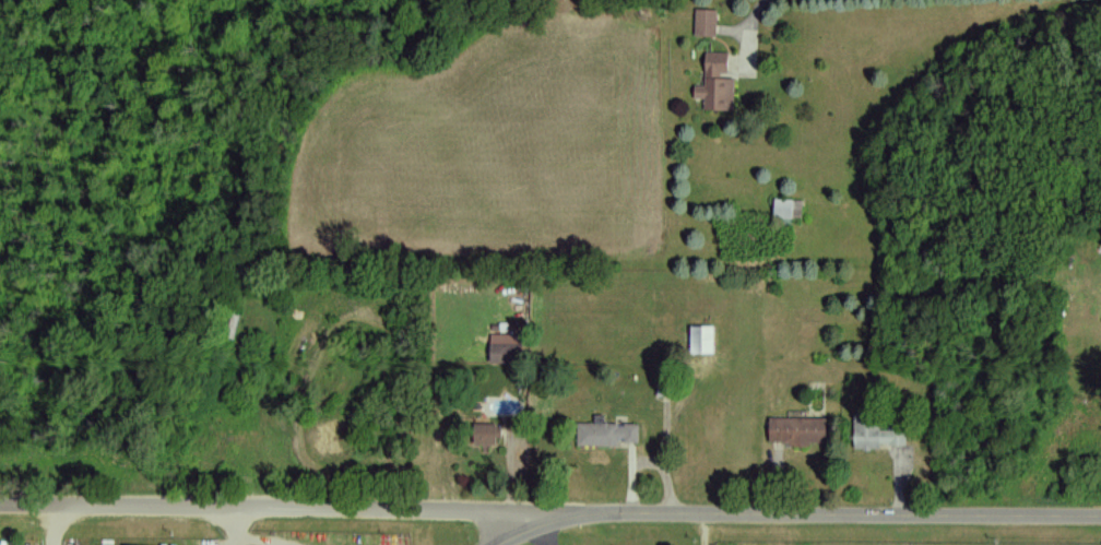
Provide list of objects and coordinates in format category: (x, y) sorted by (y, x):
road: (758, 10)
building: (706, 22)
building: (715, 83)
building: (781, 209)
building: (703, 340)
building: (507, 347)
building: (797, 430)
building: (875, 431)
building: (489, 434)
building: (607, 434)
road: (549, 512)
road: (52, 524)
road: (556, 524)
road: (240, 525)

